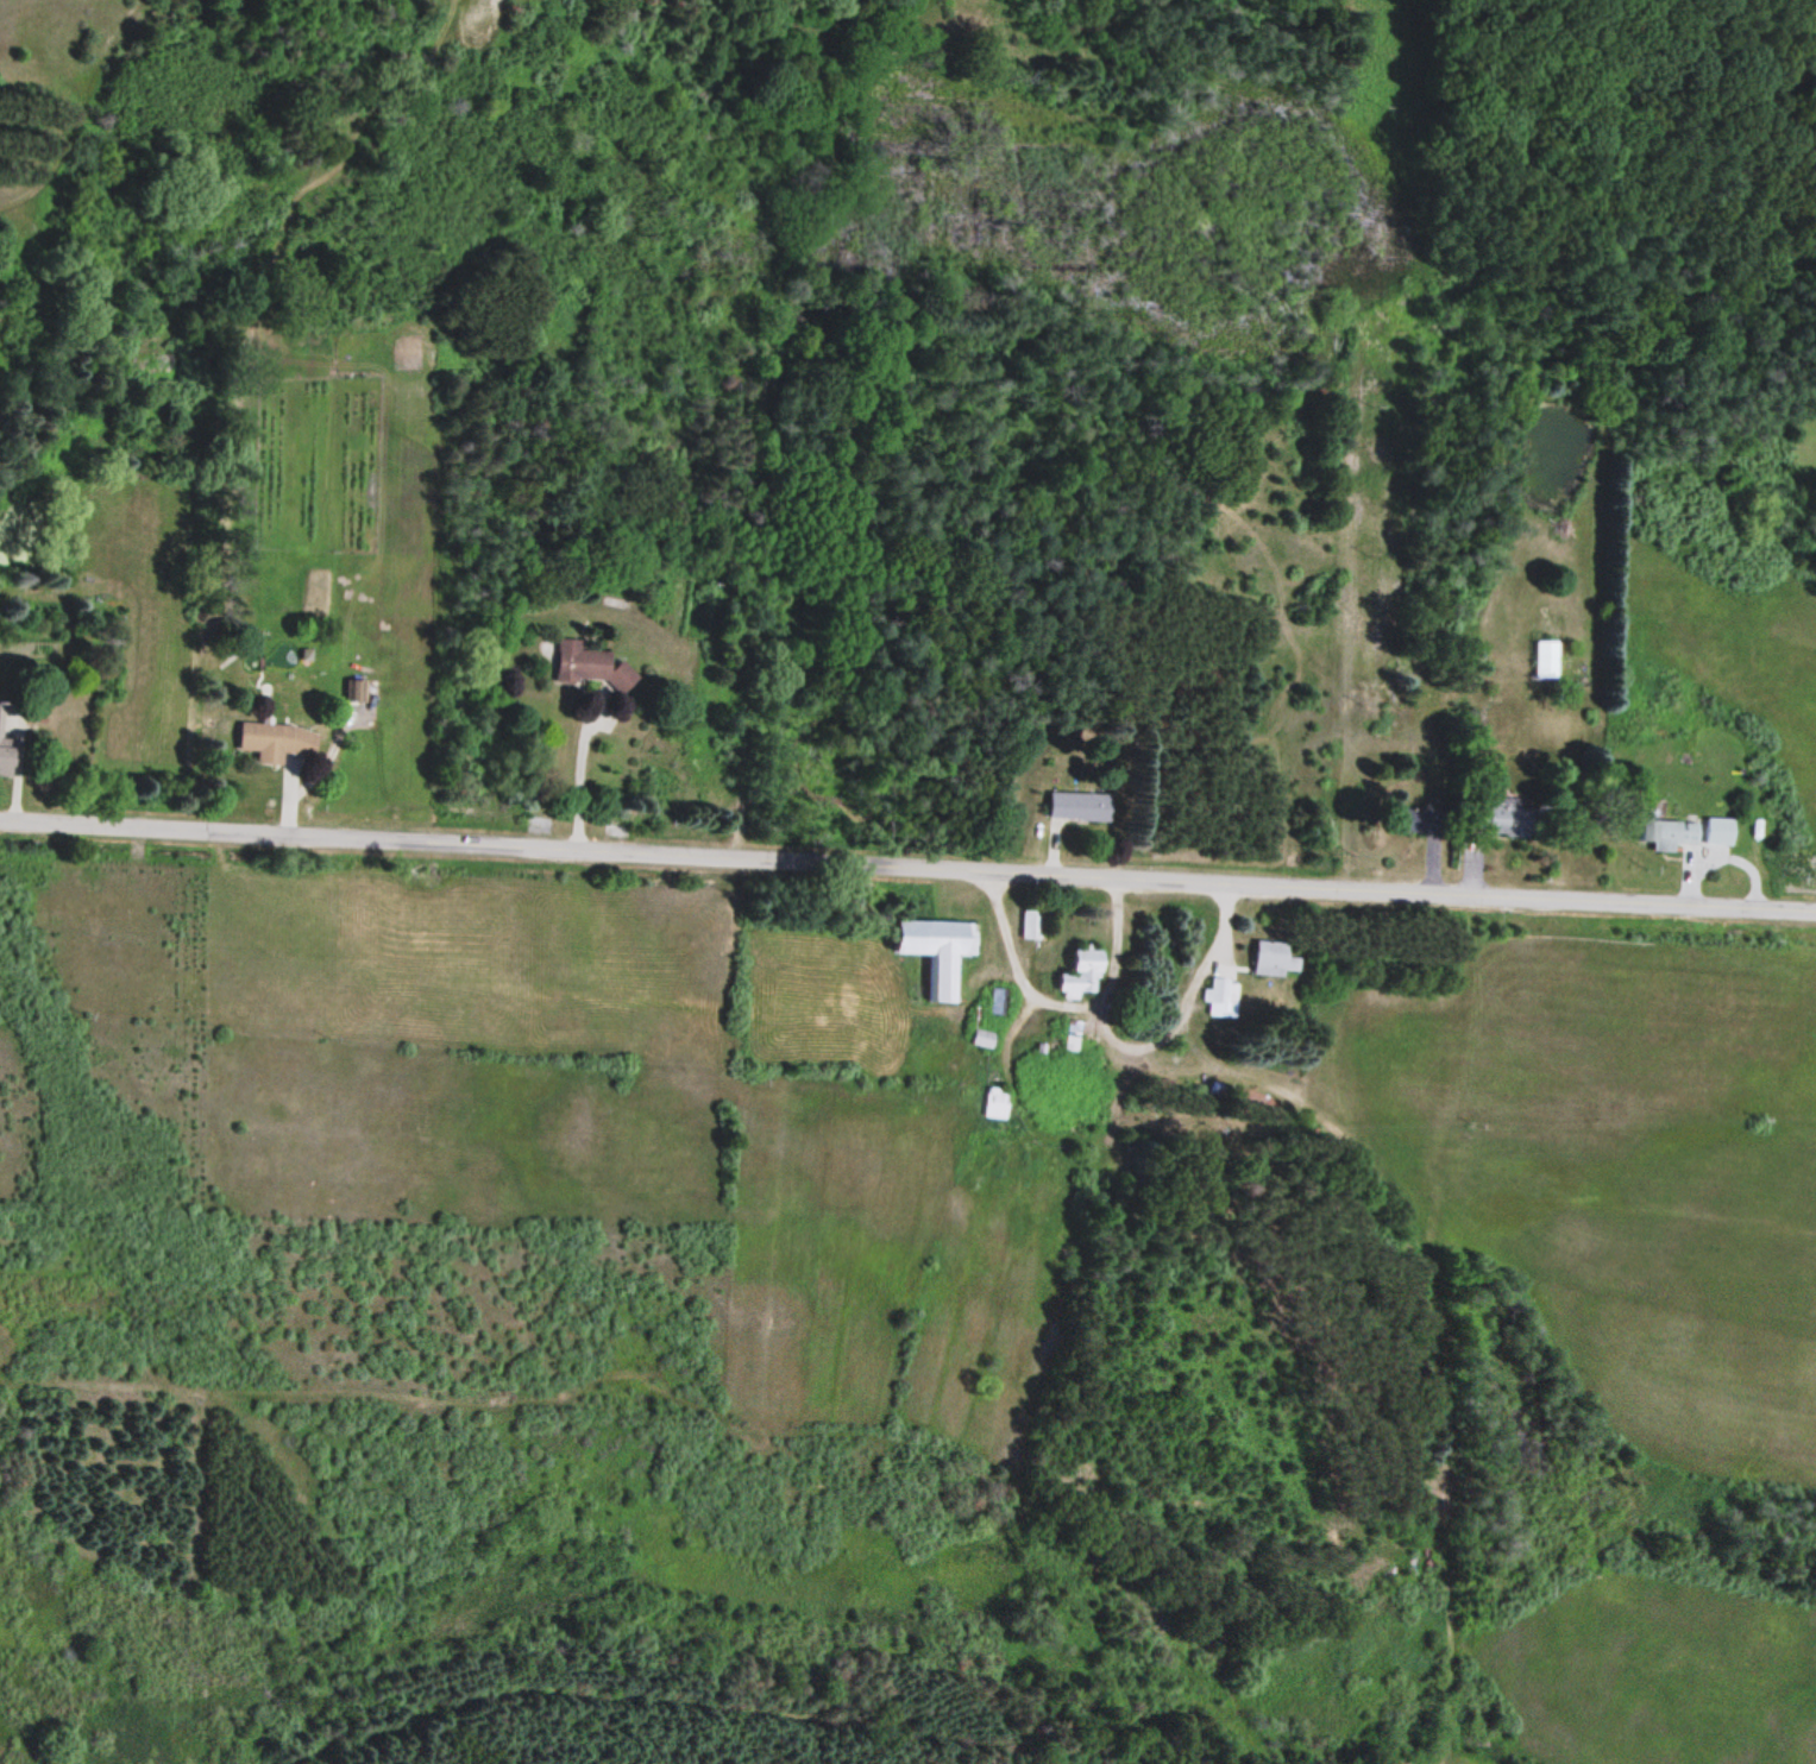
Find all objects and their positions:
building: (1539, 660)
building: (578, 662)
building: (278, 742)
building: (7, 760)
building: (1073, 806)
building: (1488, 815)
building: (1407, 821)
building: (1676, 833)
road: (907, 864)
building: (1025, 925)
building: (928, 952)
building: (1269, 958)
building: (1069, 975)
building: (1215, 1000)
building: (991, 1104)

